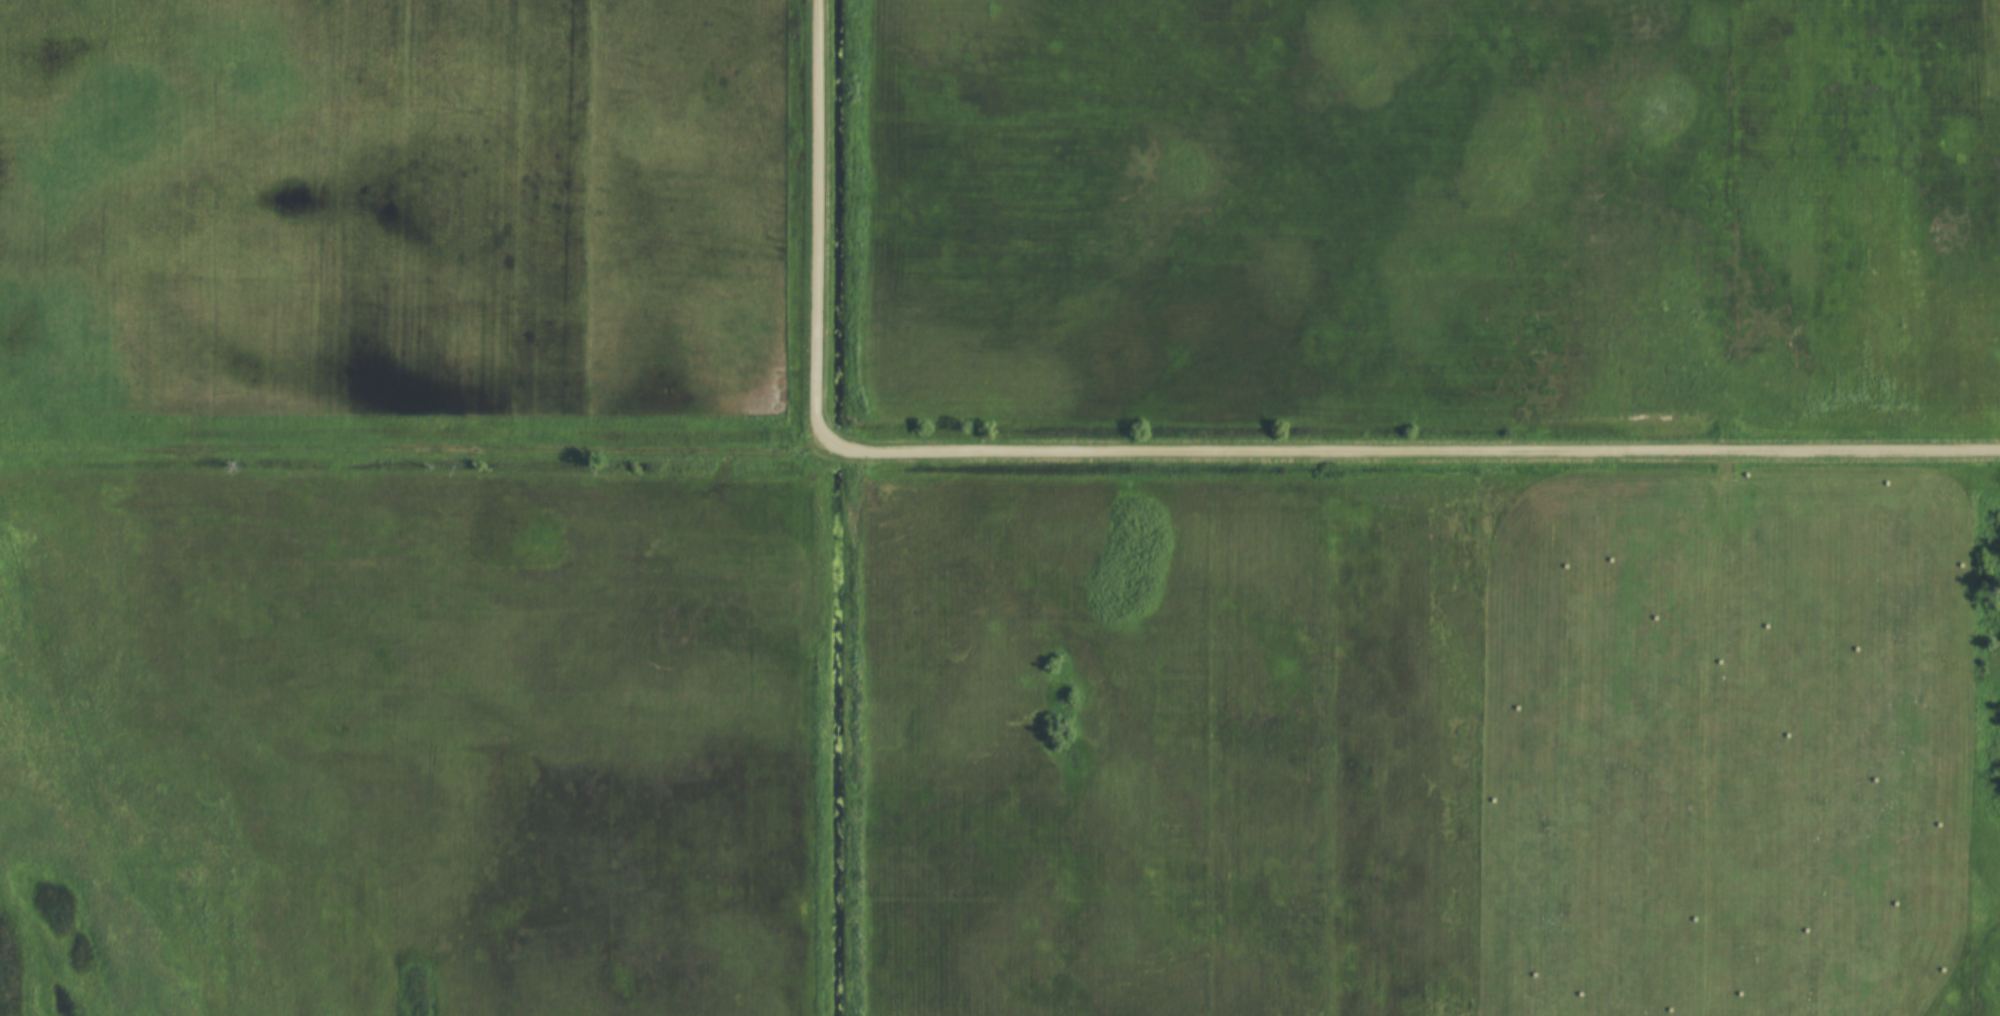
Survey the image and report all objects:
road: (816, 227)
road: (407, 449)
road: (1408, 454)

